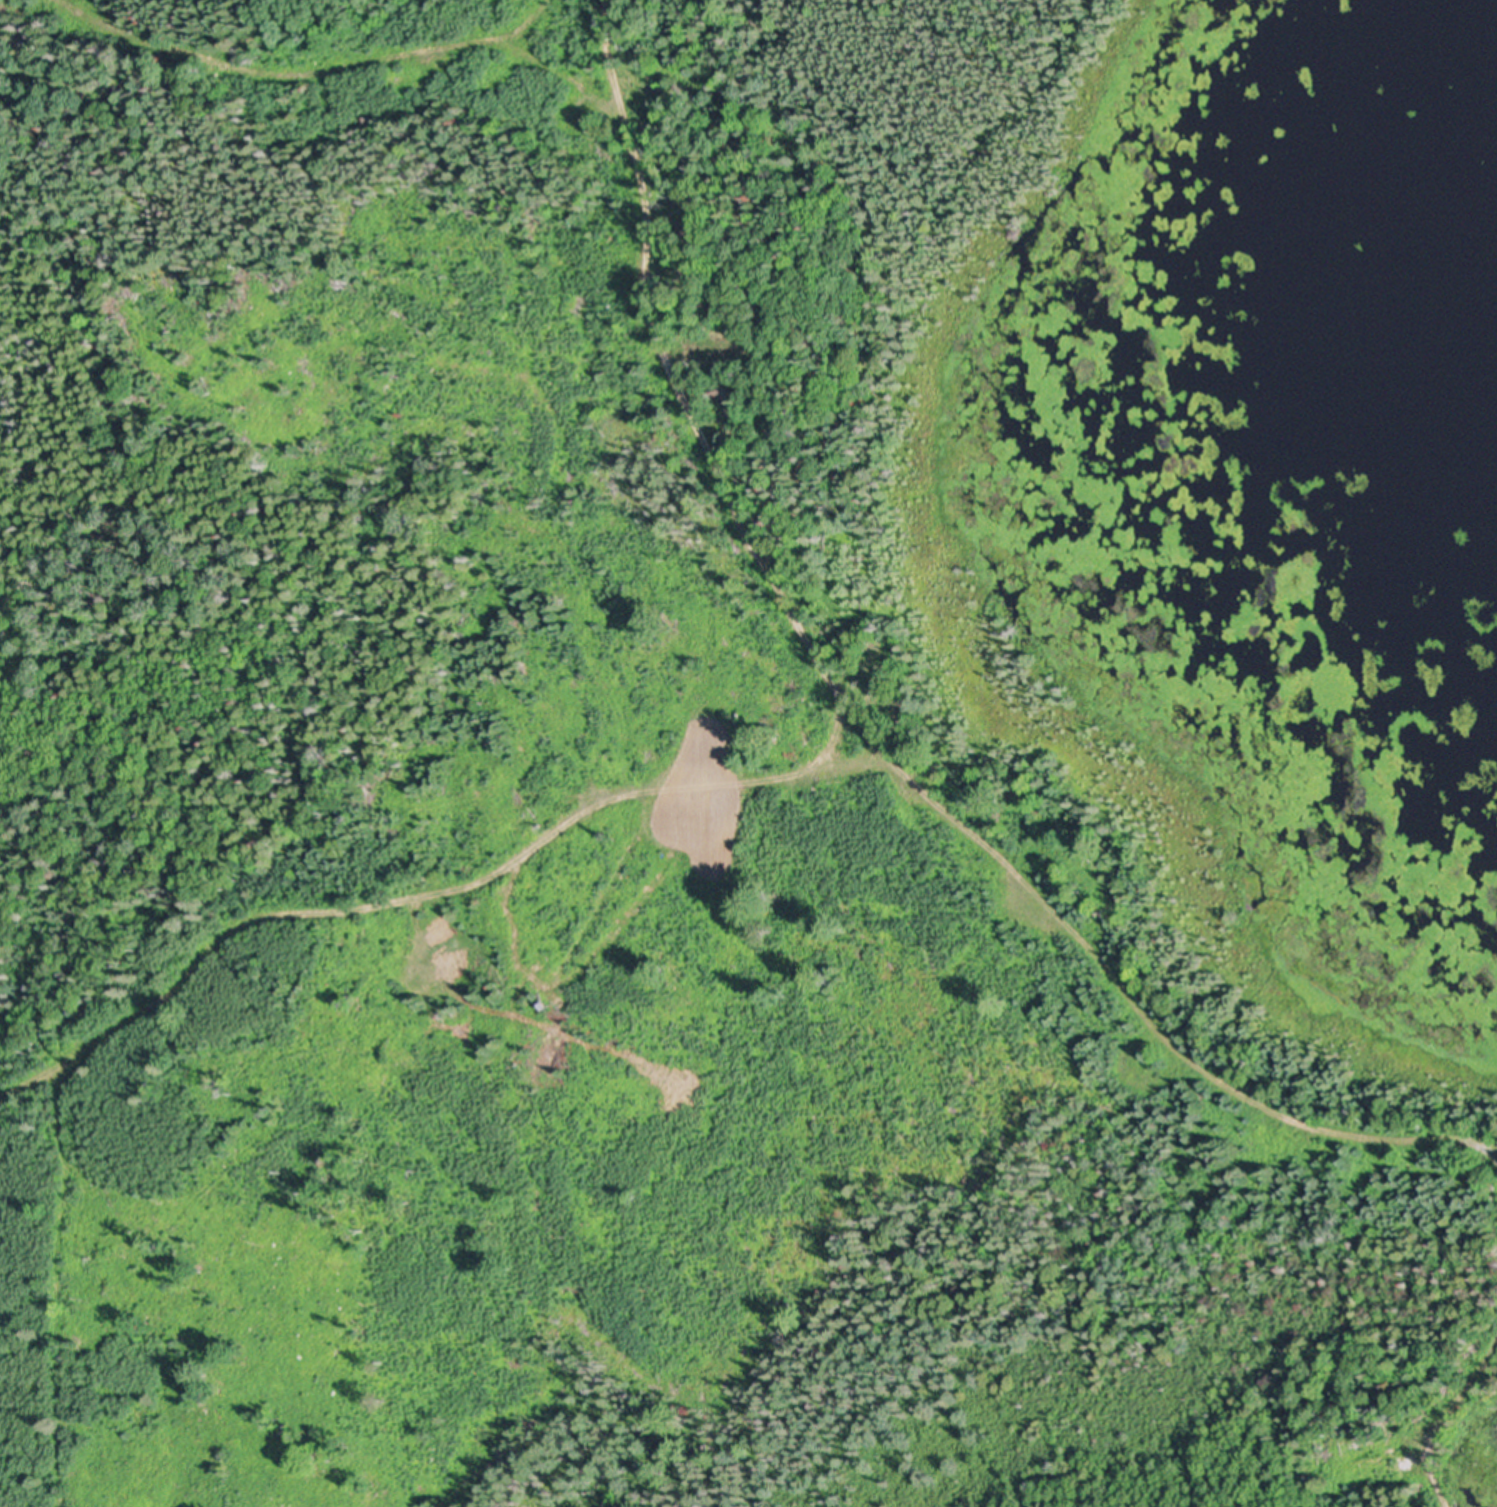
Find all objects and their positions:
road: (671, 379)
road: (778, 744)
road: (1441, 1394)

